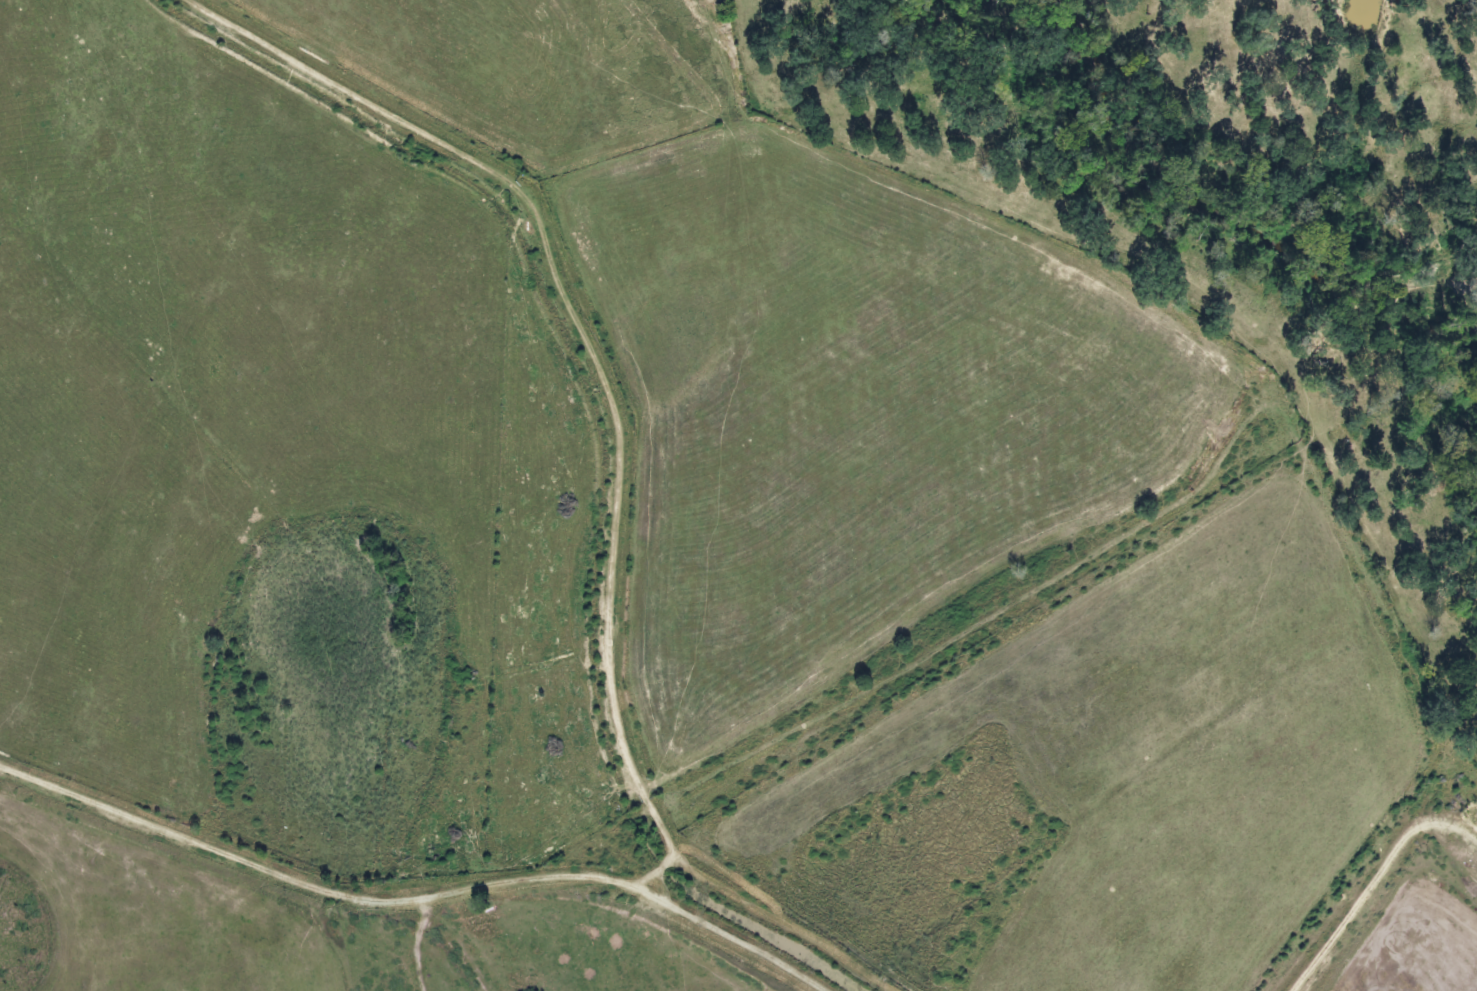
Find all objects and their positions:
building: (1470, 820)
storage tank: (1470, 820)
building: (1475, 826)
storage tank: (1475, 826)

